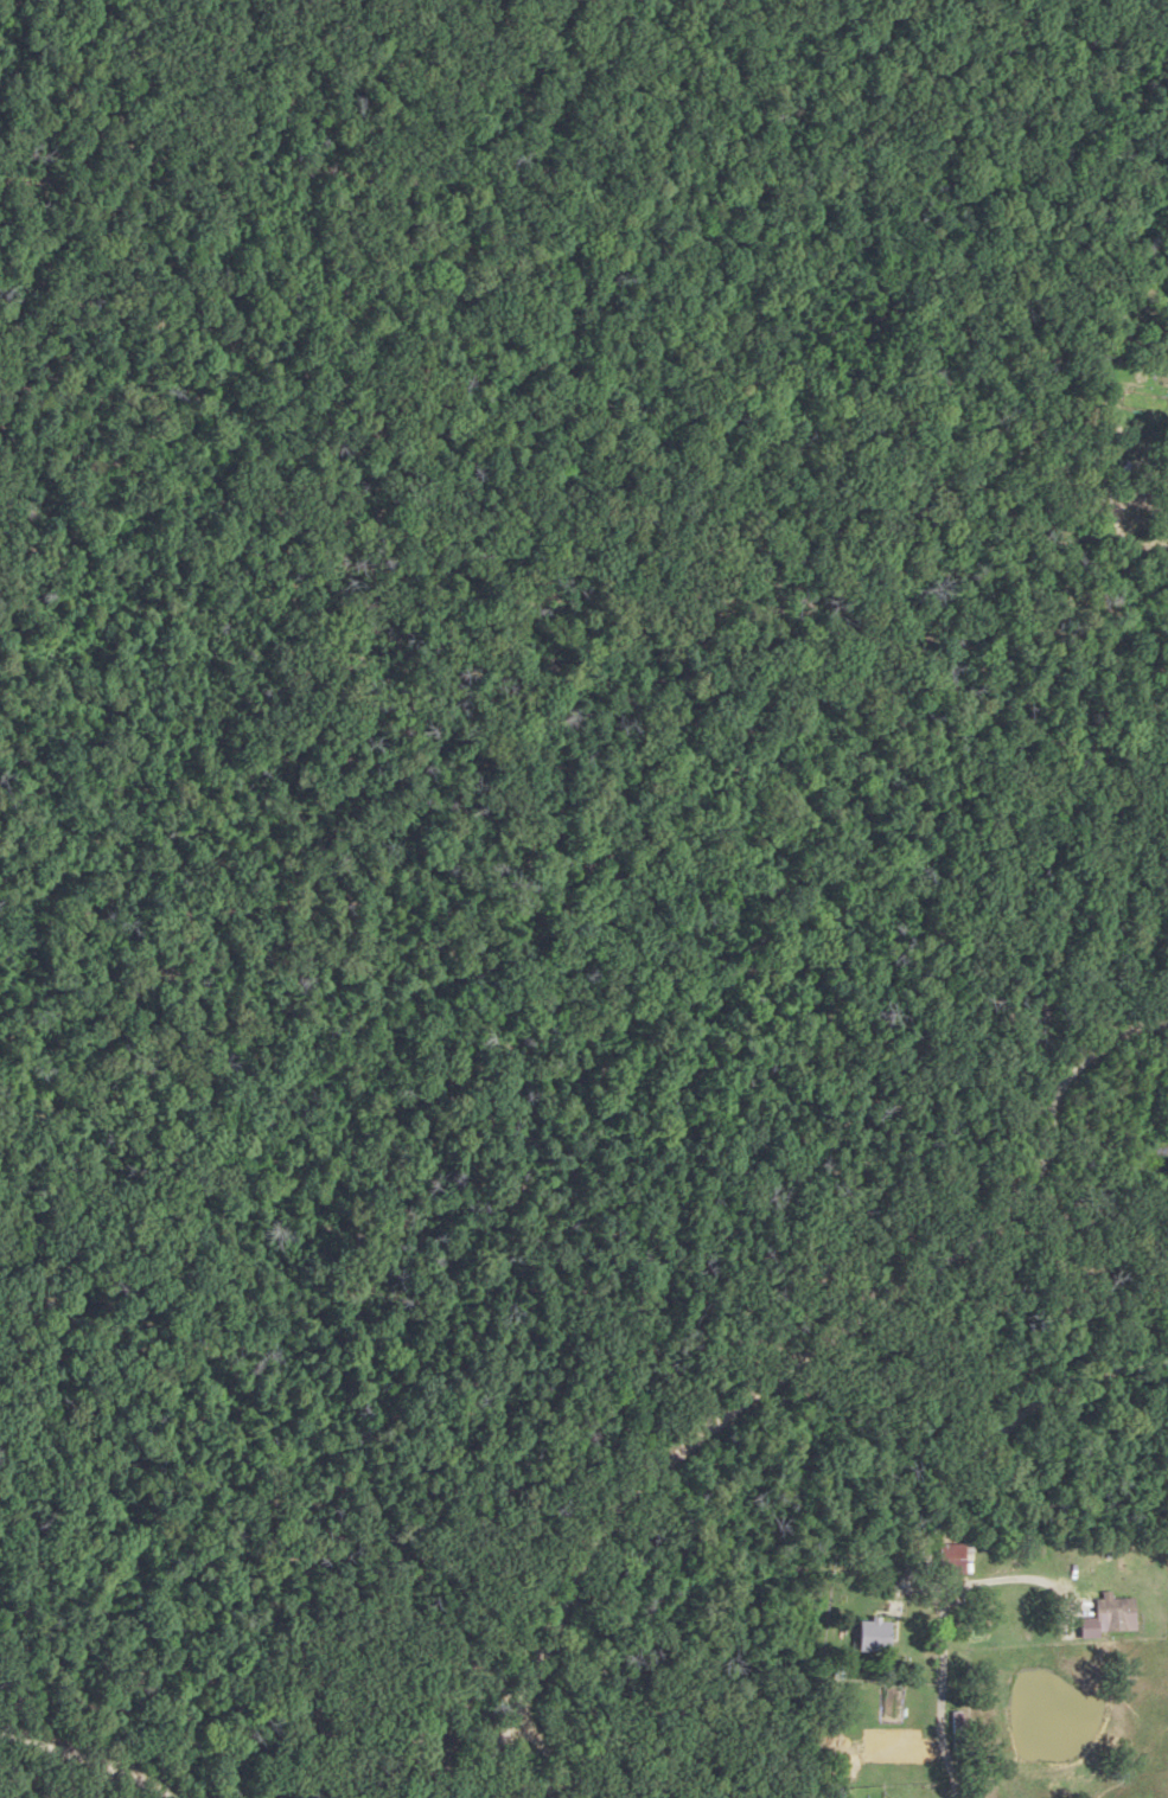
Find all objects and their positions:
building: (1164, 471)
road: (822, 1344)
road: (1026, 1414)
road: (953, 1555)
building: (951, 1559)
road: (1028, 1583)
road: (904, 1592)
building: (1108, 1614)
building: (873, 1636)
road: (944, 1651)
road: (82, 1755)
road: (549, 1757)
road: (487, 1759)

